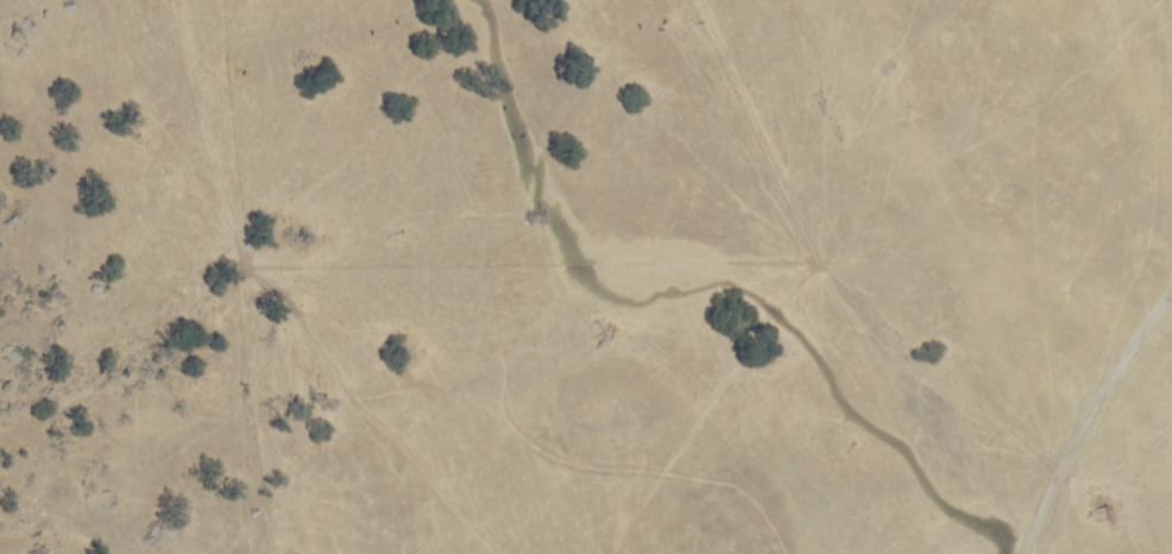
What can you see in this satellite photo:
crop: (634, 271)
road: (1095, 423)

